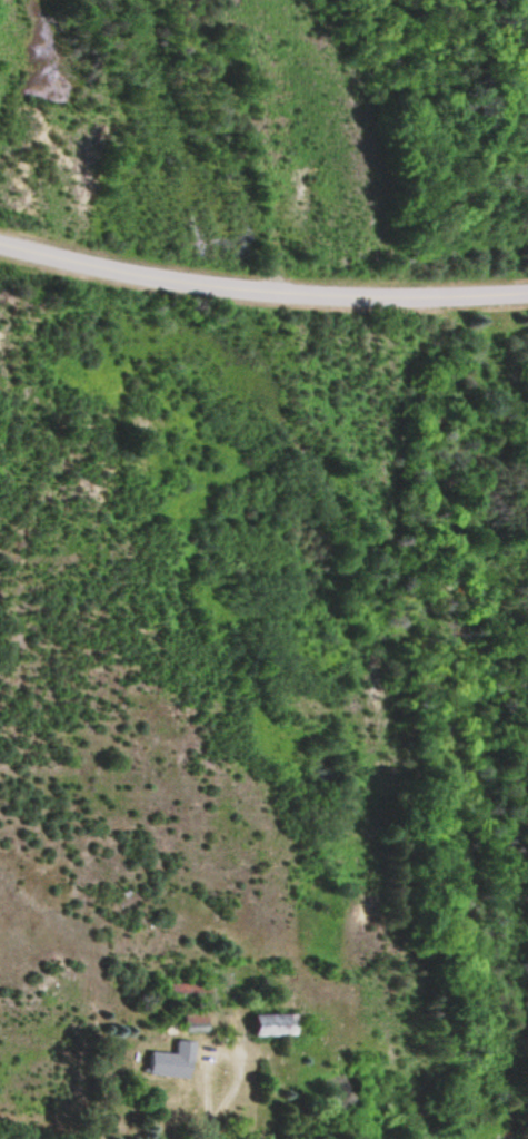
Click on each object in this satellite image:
road: (261, 288)
building: (263, 1025)
building: (156, 1068)

